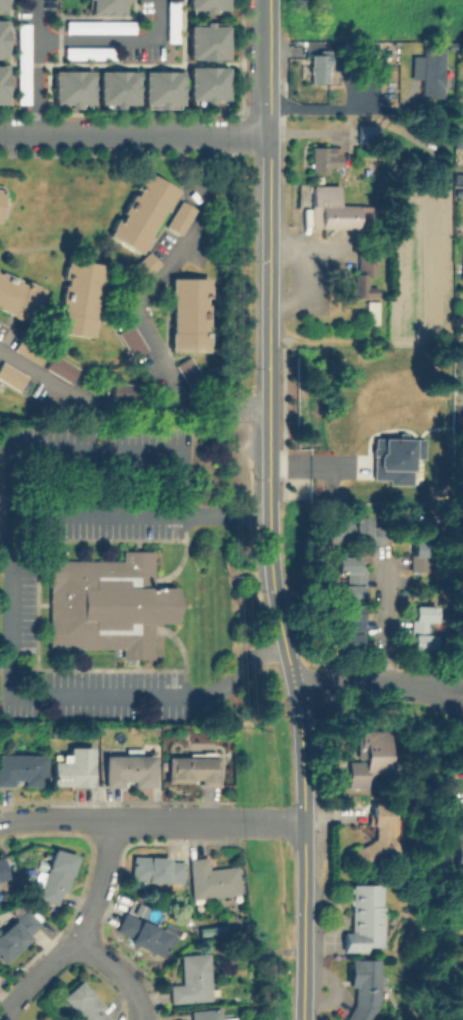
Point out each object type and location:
building: (212, 4)
building: (5, 6)
building: (110, 6)
building: (176, 21)
building: (102, 27)
building: (4, 38)
building: (212, 40)
building: (375, 41)
road: (116, 42)
building: (352, 48)
building: (93, 53)
building: (25, 63)
building: (320, 67)
road: (38, 68)
road: (270, 68)
building: (430, 68)
building: (211, 83)
building: (4, 84)
building: (75, 87)
building: (120, 87)
building: (166, 87)
road: (345, 108)
building: (367, 132)
road: (100, 137)
road: (235, 137)
building: (462, 156)
building: (326, 158)
building: (331, 207)
building: (141, 212)
building: (179, 217)
road: (81, 248)
building: (146, 263)
building: (462, 268)
building: (367, 276)
building: (19, 295)
building: (77, 297)
road: (140, 303)
building: (373, 311)
building: (188, 314)
building: (132, 344)
building: (459, 352)
building: (345, 359)
building: (60, 367)
building: (11, 376)
road: (127, 406)
road: (458, 412)
road: (96, 451)
building: (404, 462)
building: (360, 529)
building: (419, 552)
road: (274, 579)
building: (352, 580)
building: (105, 602)
road: (12, 620)
road: (380, 622)
building: (352, 627)
building: (424, 630)
road: (369, 684)
road: (454, 690)
road: (454, 703)
building: (372, 757)
building: (76, 766)
building: (23, 767)
building: (131, 768)
building: (195, 768)
road: (117, 820)
road: (270, 821)
building: (379, 841)
building: (460, 843)
building: (3, 868)
building: (156, 868)
building: (58, 873)
building: (214, 878)
road: (88, 918)
building: (366, 918)
building: (18, 932)
building: (148, 932)
road: (117, 973)
building: (194, 977)
building: (366, 987)
building: (87, 1002)
road: (11, 1007)
building: (211, 1014)

